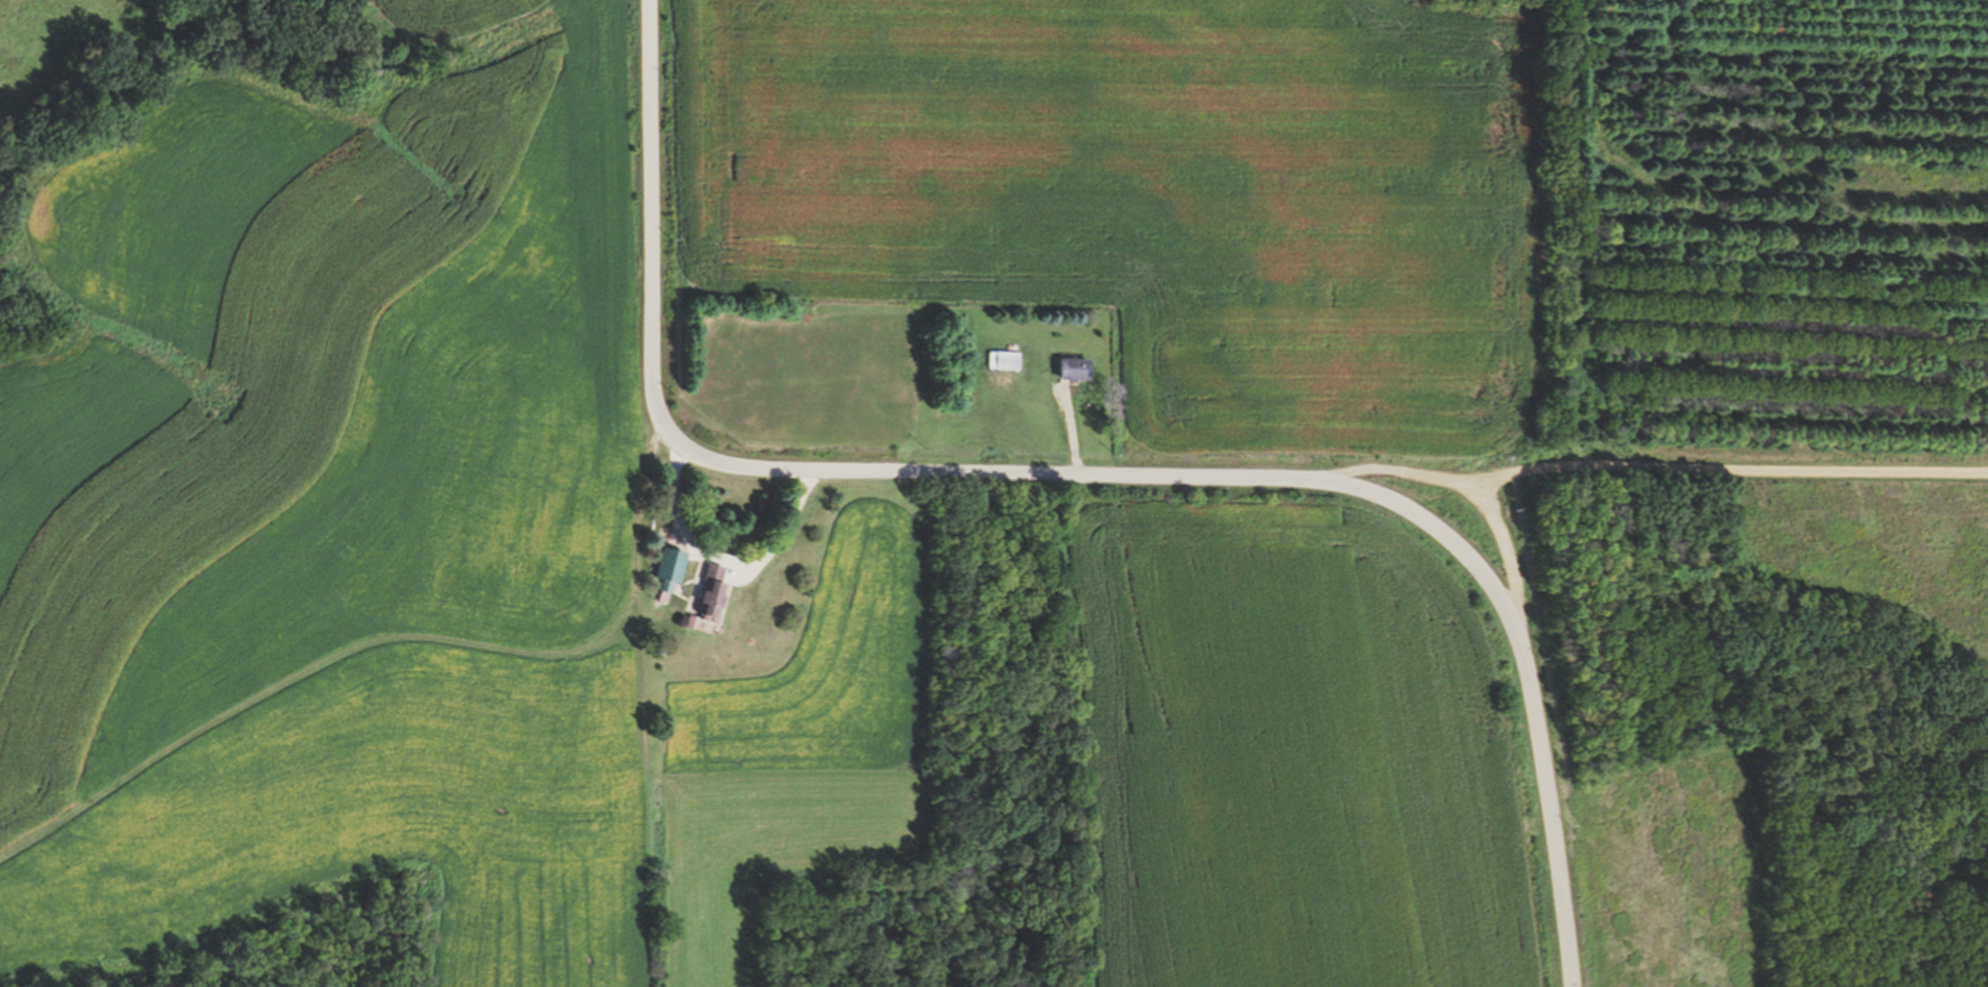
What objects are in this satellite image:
building: (1005, 361)
building: (1076, 370)
road: (1649, 466)
road: (1083, 470)
road: (1509, 558)
building: (673, 572)
building: (716, 593)
building: (696, 623)

